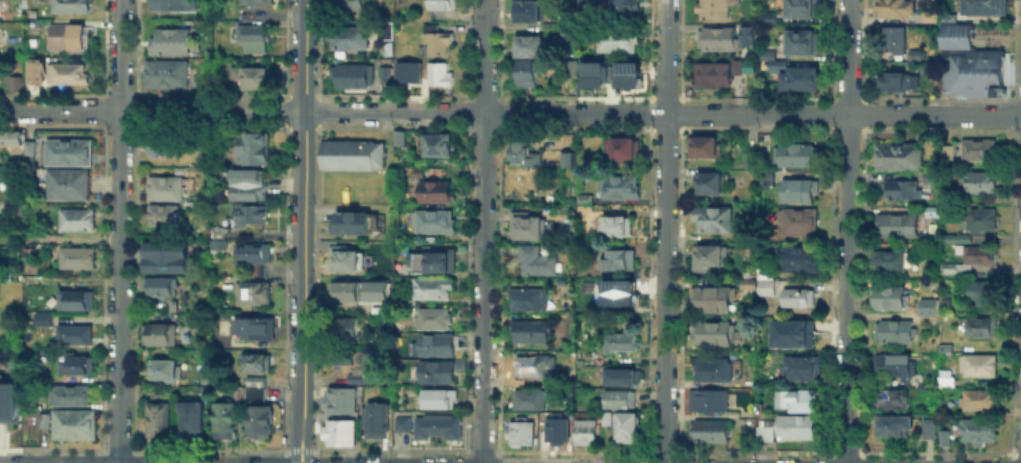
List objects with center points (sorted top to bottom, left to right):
building: (259, 3)
building: (176, 5)
building: (444, 5)
building: (347, 6)
building: (982, 6)
building: (73, 7)
building: (802, 8)
building: (623, 9)
building: (895, 9)
building: (717, 10)
building: (526, 13)
building: (35, 15)
building: (928, 15)
building: (947, 17)
building: (766, 19)
building: (431, 28)
building: (748, 35)
building: (954, 36)
building: (892, 37)
building: (69, 39)
building: (254, 39)
building: (350, 40)
building: (617, 41)
building: (720, 41)
building: (172, 43)
building: (802, 44)
building: (441, 45)
building: (529, 45)
building: (217, 49)
road: (119, 55)
building: (767, 55)
building: (917, 61)
building: (35, 67)
building: (778, 67)
building: (572, 69)
building: (406, 70)
building: (383, 72)
building: (527, 72)
building: (609, 73)
building: (70, 74)
building: (167, 74)
building: (977, 74)
building: (352, 75)
building: (440, 75)
building: (717, 75)
building: (253, 78)
building: (805, 79)
building: (897, 79)
building: (13, 82)
road: (59, 110)
road: (569, 113)
building: (9, 137)
building: (400, 139)
building: (14, 146)
building: (165, 147)
building: (438, 148)
building: (621, 148)
building: (703, 148)
building: (29, 149)
building: (524, 151)
building: (980, 151)
building: (254, 152)
building: (68, 153)
building: (948, 154)
building: (353, 157)
building: (799, 157)
building: (564, 158)
building: (899, 158)
building: (752, 159)
building: (569, 164)
building: (180, 171)
building: (416, 174)
building: (764, 176)
building: (933, 177)
building: (978, 182)
building: (710, 183)
building: (69, 186)
building: (620, 187)
building: (249, 188)
building: (795, 189)
building: (168, 190)
building: (903, 192)
building: (435, 193)
building: (584, 200)
building: (12, 204)
road: (304, 212)
building: (934, 212)
building: (164, 217)
building: (252, 218)
building: (1, 219)
building: (79, 221)
building: (714, 221)
building: (981, 221)
building: (434, 223)
building: (799, 223)
building: (359, 224)
building: (528, 226)
building: (898, 226)
building: (615, 227)
road: (482, 231)
road: (666, 231)
road: (846, 231)
building: (950, 239)
building: (328, 245)
building: (220, 249)
building: (976, 255)
building: (710, 256)
building: (799, 258)
building: (255, 259)
building: (79, 260)
building: (168, 260)
building: (432, 260)
building: (348, 261)
building: (537, 261)
building: (620, 261)
building: (890, 263)
building: (951, 269)
building: (403, 274)
building: (745, 283)
building: (763, 286)
road: (118, 287)
building: (161, 288)
building: (434, 289)
building: (985, 289)
building: (347, 293)
building: (625, 293)
building: (255, 296)
building: (795, 296)
building: (74, 299)
building: (890, 299)
building: (712, 300)
building: (528, 301)
building: (985, 302)
building: (927, 310)
building: (41, 317)
building: (435, 319)
building: (979, 328)
building: (255, 330)
building: (348, 331)
building: (531, 332)
building: (791, 332)
building: (71, 333)
building: (895, 333)
building: (713, 334)
building: (160, 335)
building: (621, 343)
building: (437, 345)
building: (354, 362)
building: (77, 366)
building: (257, 366)
building: (979, 367)
building: (894, 368)
building: (533, 369)
building: (802, 369)
building: (166, 372)
building: (715, 372)
building: (438, 374)
building: (621, 375)
building: (948, 379)
building: (40, 380)
building: (254, 380)
building: (358, 380)
building: (256, 392)
building: (242, 395)
building: (70, 397)
building: (343, 401)
building: (440, 401)
building: (529, 401)
building: (621, 401)
building: (894, 401)
building: (979, 401)
building: (7, 402)
building: (710, 402)
building: (801, 402)
building: (225, 418)
building: (376, 419)
building: (607, 421)
building: (44, 422)
building: (158, 422)
building: (260, 423)
building: (399, 423)
building: (193, 424)
building: (75, 426)
building: (894, 427)
building: (797, 428)
building: (439, 429)
building: (628, 430)
building: (929, 430)
building: (709, 432)
building: (980, 432)
building: (342, 433)
building: (522, 433)
building: (558, 433)
building: (586, 433)
building: (766, 434)
building: (946, 439)
road: (296, 443)
road: (309, 444)
road: (302, 449)

